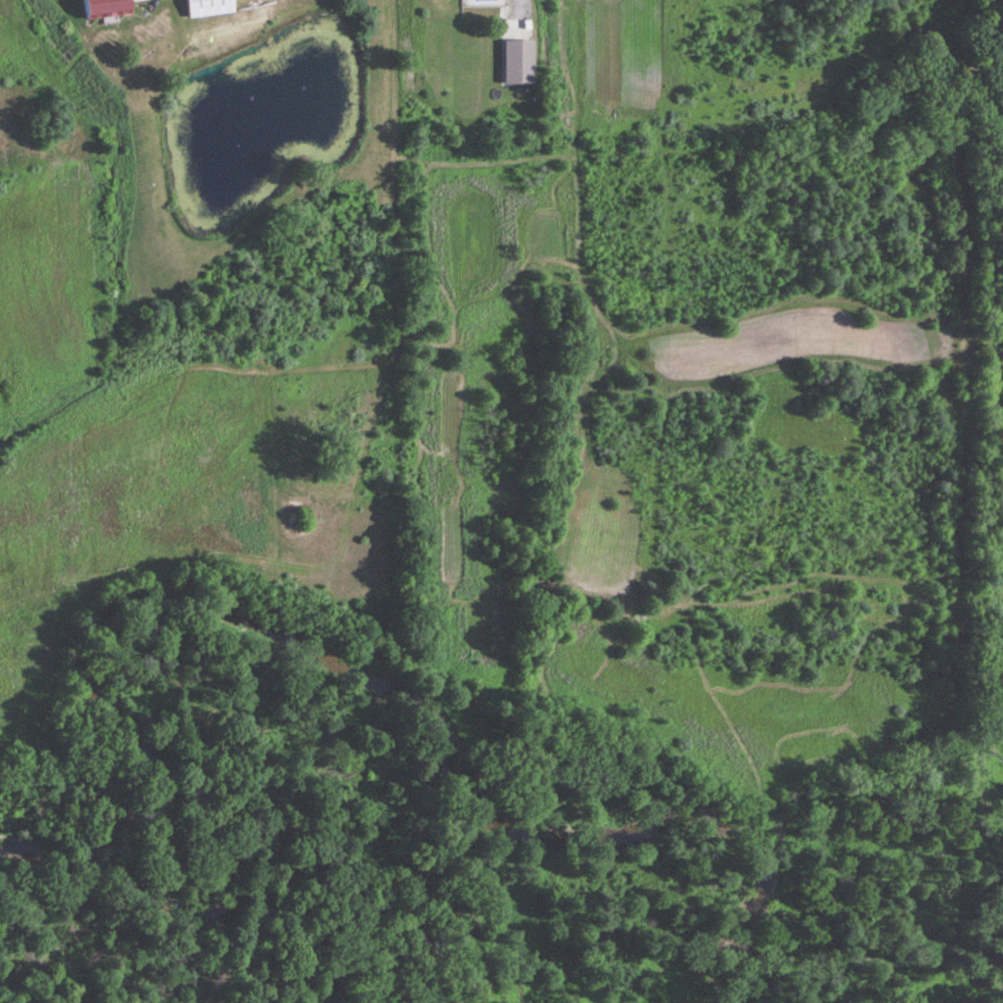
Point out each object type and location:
building: (208, 8)
building: (104, 9)
building: (518, 63)
park: (994, 295)
river: (260, 620)

